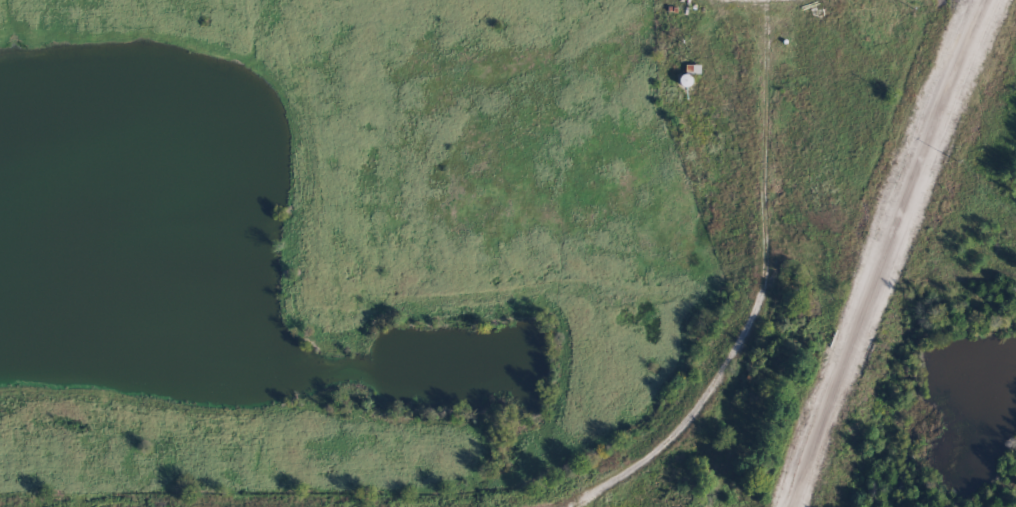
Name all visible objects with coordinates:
road: (881, 251)

